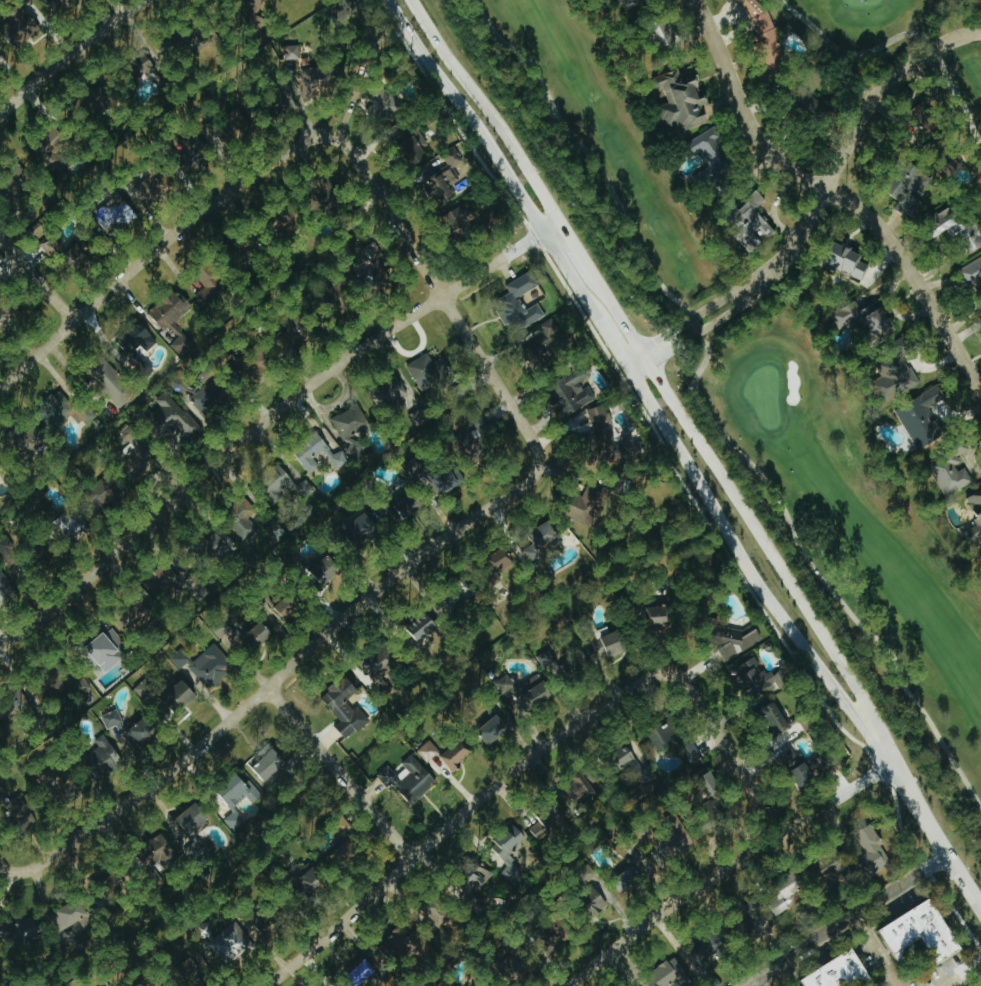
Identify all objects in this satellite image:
building: (254, 2)
building: (627, 2)
building: (738, 3)
building: (57, 4)
building: (19, 29)
park: (866, 29)
building: (665, 34)
building: (763, 37)
road: (69, 54)
building: (143, 64)
building: (163, 78)
building: (317, 80)
building: (683, 100)
park: (964, 101)
building: (382, 102)
building: (232, 125)
building: (408, 141)
building: (50, 143)
building: (194, 147)
building: (710, 156)
building: (152, 183)
building: (440, 183)
building: (19, 184)
building: (909, 189)
road: (832, 191)
road: (823, 208)
building: (116, 214)
building: (753, 222)
building: (957, 228)
building: (53, 247)
road: (156, 248)
building: (81, 253)
building: (848, 261)
building: (376, 264)
building: (971, 272)
road: (37, 278)
building: (209, 285)
building: (522, 285)
road: (443, 294)
building: (528, 313)
building: (172, 318)
building: (864, 319)
building: (298, 327)
building: (133, 338)
building: (544, 346)
building: (243, 361)
building: (428, 371)
building: (895, 374)
building: (112, 383)
park: (748, 387)
building: (569, 392)
building: (388, 393)
building: (208, 394)
building: (61, 410)
building: (418, 417)
building: (921, 417)
building: (171, 418)
road: (264, 421)
building: (349, 422)
building: (474, 439)
building: (353, 448)
building: (308, 453)
road: (697, 453)
building: (138, 462)
building: (2, 472)
building: (436, 474)
building: (948, 475)
building: (303, 489)
building: (106, 493)
building: (594, 502)
building: (410, 504)
building: (976, 511)
building: (241, 519)
building: (69, 527)
building: (363, 530)
building: (541, 541)
building: (7, 549)
building: (503, 560)
building: (328, 569)
building: (162, 580)
building: (4, 584)
building: (195, 587)
building: (453, 599)
building: (290, 604)
building: (137, 613)
building: (660, 615)
building: (425, 626)
building: (259, 634)
building: (742, 640)
building: (616, 642)
building: (109, 649)
building: (380, 662)
building: (206, 665)
road: (286, 671)
building: (759, 679)
building: (145, 690)
building: (529, 692)
building: (180, 696)
building: (14, 704)
building: (344, 706)
building: (774, 718)
building: (492, 727)
building: (132, 728)
building: (673, 737)
road: (728, 750)
building: (427, 752)
building: (456, 755)
building: (627, 757)
building: (102, 758)
building: (270, 764)
building: (819, 765)
road: (340, 773)
building: (646, 775)
building: (409, 779)
building: (69, 783)
building: (709, 784)
building: (579, 788)
building: (0, 793)
building: (236, 799)
building: (14, 812)
road: (461, 817)
building: (548, 819)
building: (671, 841)
building: (508, 849)
building: (161, 851)
building: (873, 853)
building: (337, 856)
building: (841, 867)
road: (726, 868)
building: (632, 869)
road: (12, 870)
building: (309, 879)
building: (477, 879)
building: (114, 883)
building: (786, 890)
building: (75, 916)
building: (443, 917)
road: (848, 922)
building: (265, 926)
building: (18, 931)
building: (558, 931)
building: (924, 932)
building: (228, 943)
building: (708, 949)
road: (877, 952)
road: (972, 967)
building: (365, 971)
building: (841, 972)
building: (670, 976)
road: (953, 979)

